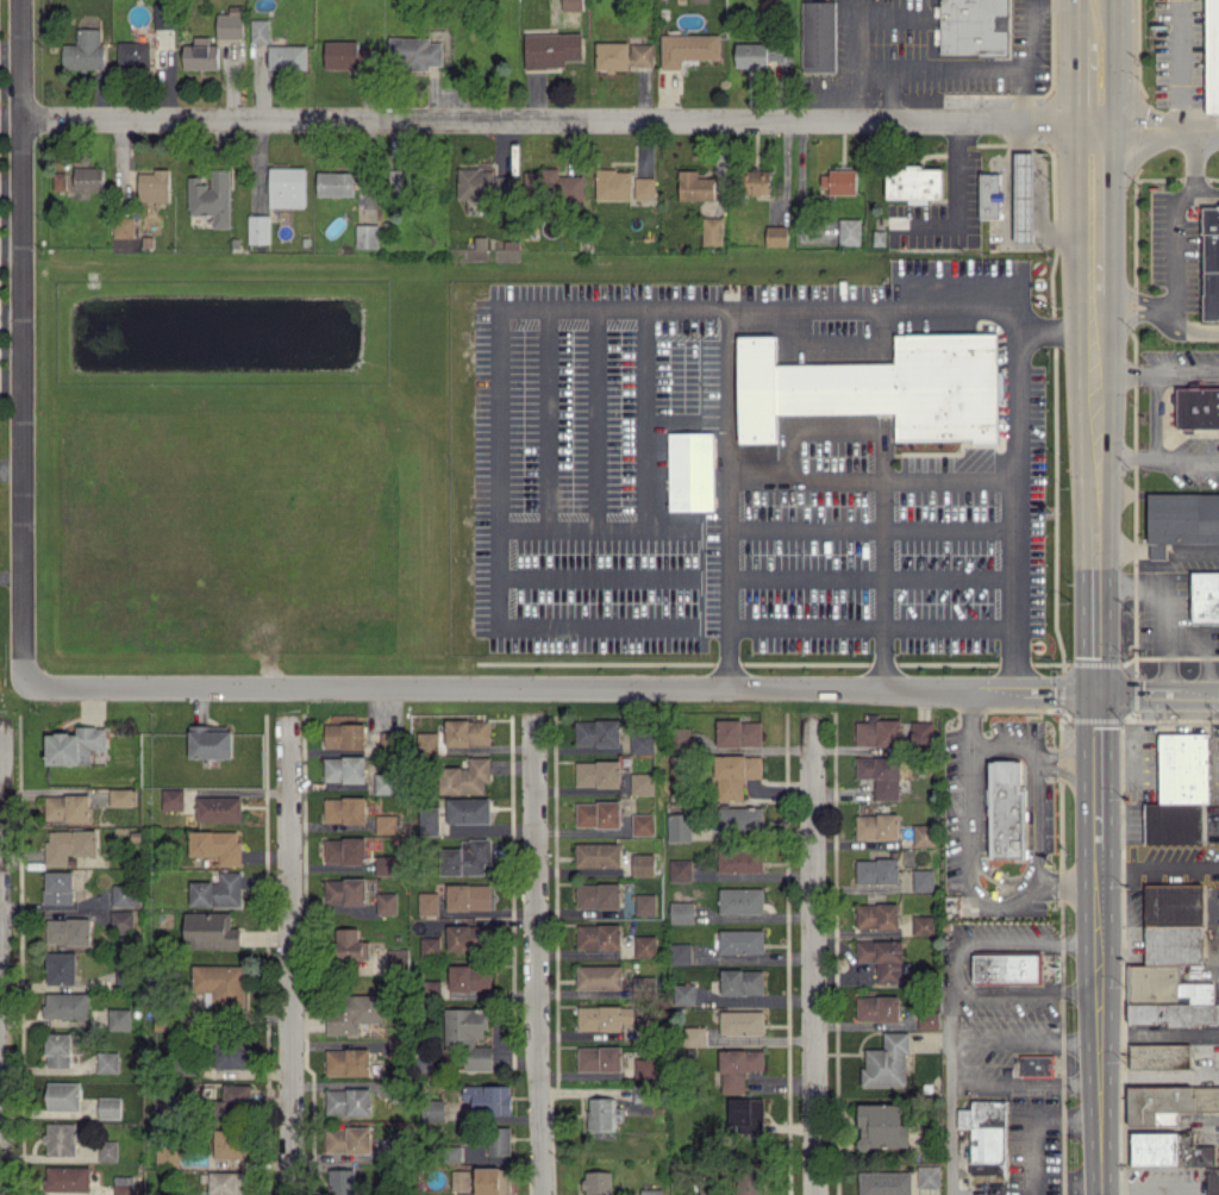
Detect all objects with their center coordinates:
road: (1113, 4)
building: (571, 5)
building: (230, 23)
building: (974, 26)
building: (260, 30)
building: (818, 36)
road: (1071, 37)
building: (688, 48)
building: (552, 49)
building: (85, 51)
building: (413, 52)
building: (200, 54)
building: (758, 54)
building: (133, 55)
building: (346, 55)
building: (624, 55)
building: (1212, 56)
building: (287, 57)
road: (1175, 62)
road: (1111, 64)
road: (981, 68)
road: (1017, 94)
road: (1081, 96)
road: (558, 119)
road: (1155, 121)
building: (88, 179)
building: (58, 181)
building: (757, 181)
building: (839, 181)
building: (336, 183)
building: (505, 183)
building: (613, 183)
building: (915, 183)
building: (154, 186)
building: (552, 186)
building: (695, 186)
building: (287, 187)
building: (644, 187)
road: (1205, 189)
building: (989, 193)
road: (1092, 194)
building: (211, 196)
road: (955, 196)
building: (1023, 196)
road: (1171, 214)
building: (124, 226)
building: (258, 229)
building: (712, 230)
building: (849, 231)
building: (367, 234)
building: (776, 234)
road: (25, 245)
building: (1211, 262)
road: (1093, 282)
road: (1149, 305)
road: (544, 315)
road: (1093, 319)
road: (1179, 330)
road: (1093, 358)
road: (1156, 371)
building: (877, 387)
building: (1196, 407)
road: (1093, 413)
road: (1156, 455)
building: (690, 470)
road: (726, 474)
road: (871, 478)
road: (1094, 488)
building: (1183, 518)
road: (1119, 549)
road: (1154, 549)
road: (1190, 549)
building: (1157, 551)
road: (24, 588)
building: (1205, 597)
road: (1094, 608)
road: (1013, 626)
road: (726, 659)
road: (880, 662)
road: (1013, 665)
road: (561, 687)
traffic signals: (1095, 695)
road: (1157, 695)
building: (921, 731)
building: (468, 732)
building: (739, 732)
building: (879, 732)
building: (599, 733)
building: (344, 736)
building: (683, 736)
building: (642, 742)
building: (427, 743)
building: (75, 745)
road: (1006, 745)
road: (1068, 746)
building: (344, 769)
building: (598, 772)
building: (734, 774)
road: (1095, 774)
building: (881, 775)
road: (1067, 775)
building: (465, 776)
building: (385, 782)
building: (642, 783)
building: (1180, 789)
building: (123, 796)
building: (173, 797)
building: (67, 807)
building: (218, 808)
building: (344, 809)
building: (468, 809)
building: (1006, 811)
building: (598, 814)
road: (1031, 815)
building: (740, 818)
building: (429, 820)
building: (386, 822)
building: (643, 824)
building: (679, 826)
building: (877, 826)
building: (923, 836)
building: (69, 844)
building: (217, 845)
building: (345, 850)
building: (598, 855)
building: (467, 857)
road: (964, 858)
building: (740, 861)
building: (643, 863)
building: (386, 864)
building: (681, 866)
road: (1096, 868)
building: (877, 870)
building: (924, 880)
building: (58, 887)
building: (218, 890)
building: (345, 890)
building: (126, 894)
building: (598, 895)
building: (468, 896)
building: (742, 900)
building: (386, 902)
building: (429, 903)
building: (682, 914)
building: (877, 915)
building: (121, 919)
building: (923, 924)
building: (68, 931)
building: (211, 931)
building: (599, 936)
building: (465, 938)
building: (742, 940)
building: (350, 944)
building: (430, 945)
building: (645, 945)
building: (680, 953)
road: (289, 955)
road: (535, 955)
road: (812, 956)
building: (882, 957)
building: (398, 958)
building: (1171, 961)
road: (0, 964)
road: (956, 964)
building: (1007, 966)
building: (61, 968)
building: (599, 976)
building: (469, 977)
building: (742, 981)
building: (220, 984)
building: (432, 987)
building: (683, 994)
building: (67, 1005)
building: (877, 1007)
building: (352, 1012)
building: (599, 1016)
building: (119, 1019)
building: (927, 1020)
building: (742, 1022)
building: (468, 1036)
building: (694, 1036)
road: (1024, 1038)
road: (1096, 1038)
building: (58, 1050)
building: (230, 1056)
building: (1159, 1056)
building: (600, 1058)
building: (107, 1062)
building: (348, 1062)
building: (887, 1062)
building: (1037, 1065)
building: (738, 1068)
building: (640, 1093)
building: (63, 1095)
building: (236, 1096)
building: (489, 1097)
building: (349, 1101)
building: (1157, 1101)
building: (110, 1107)
building: (433, 1109)
building: (746, 1113)
road: (950, 1115)
building: (882, 1126)
building: (986, 1134)
building: (61, 1138)
building: (348, 1139)
building: (498, 1140)
building: (226, 1144)
building: (107, 1150)
building: (168, 1157)
building: (929, 1176)
building: (68, 1178)
building: (460, 1180)
building: (342, 1181)
building: (493, 1181)
building: (1213, 1181)
building: (598, 1182)
building: (226, 1183)
building: (884, 1183)
building: (124, 1184)
building: (750, 1184)
building: (651, 1191)

